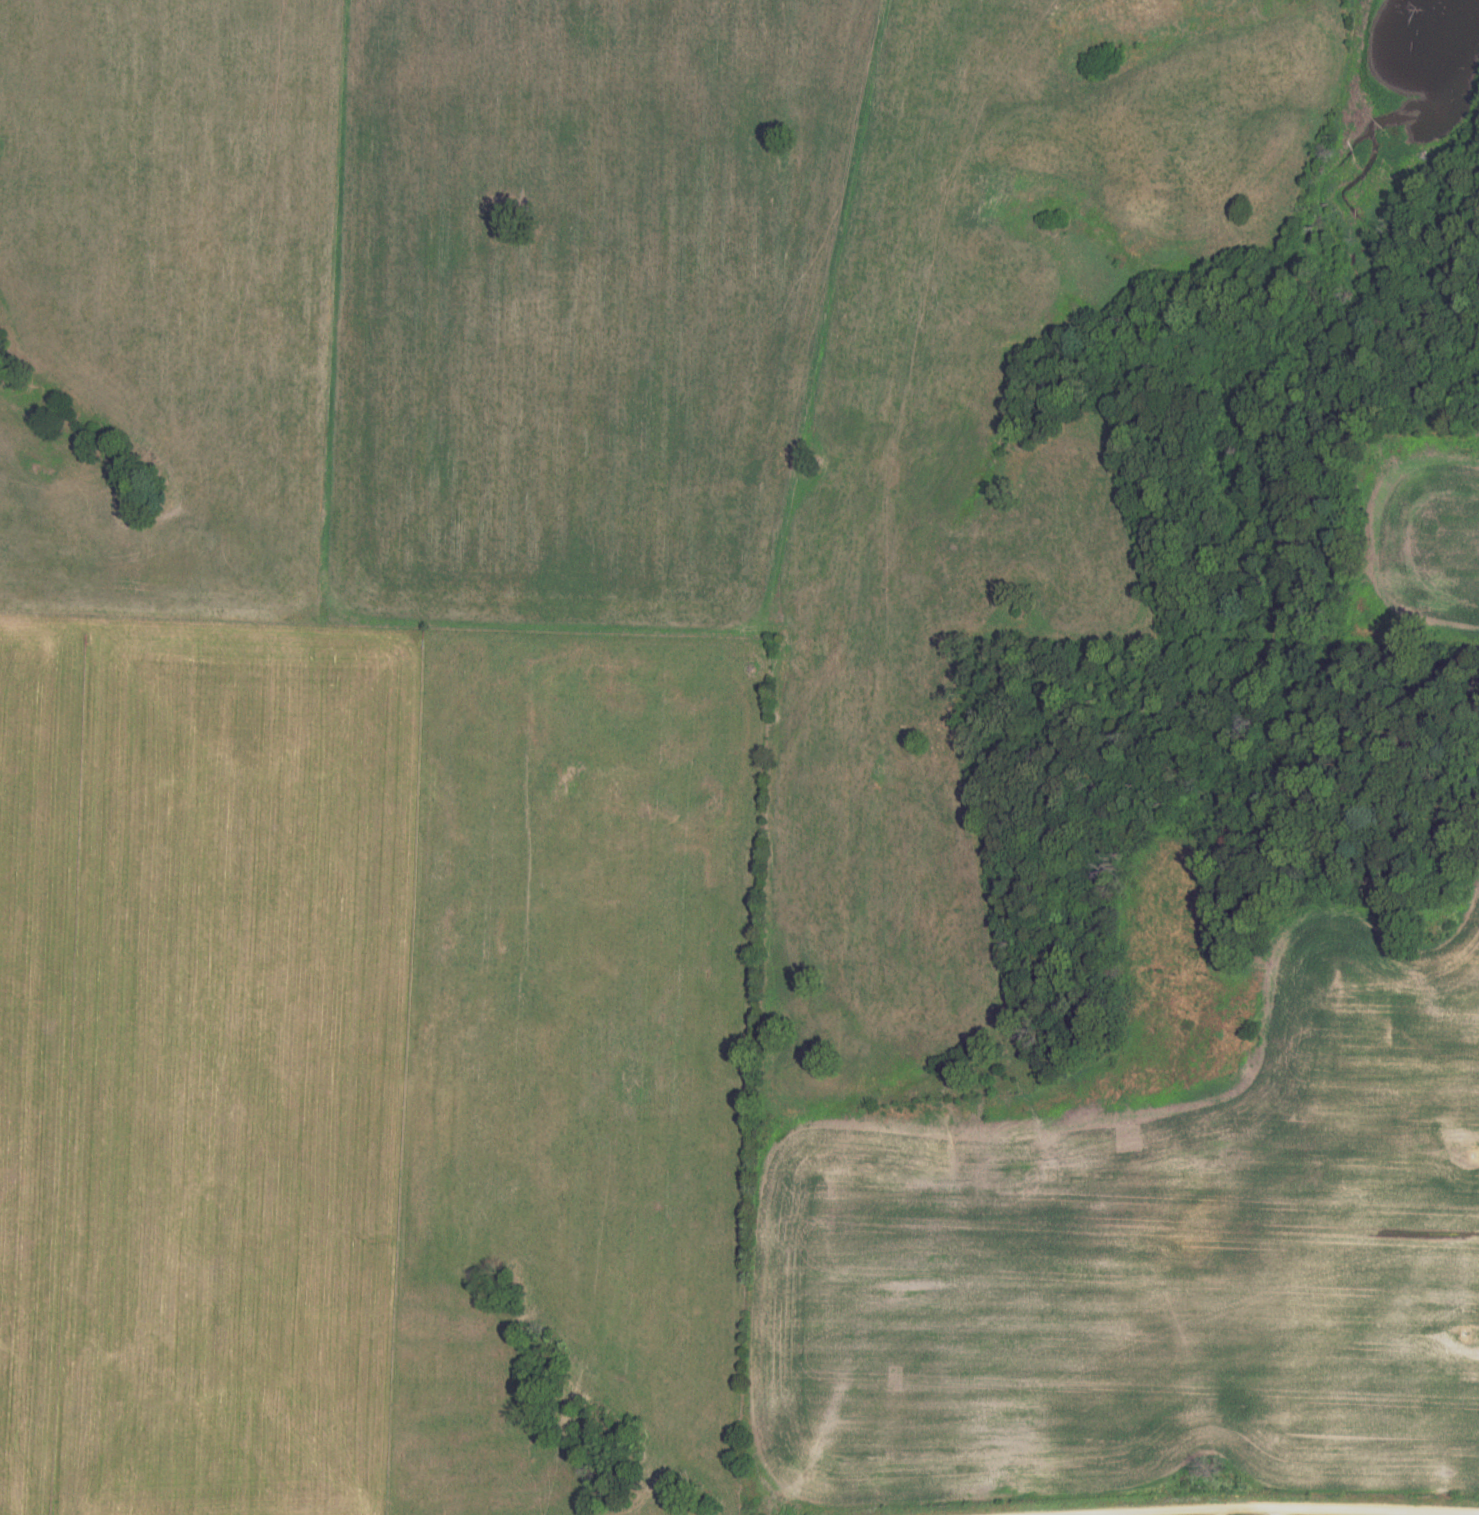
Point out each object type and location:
road: (1280, 1507)

